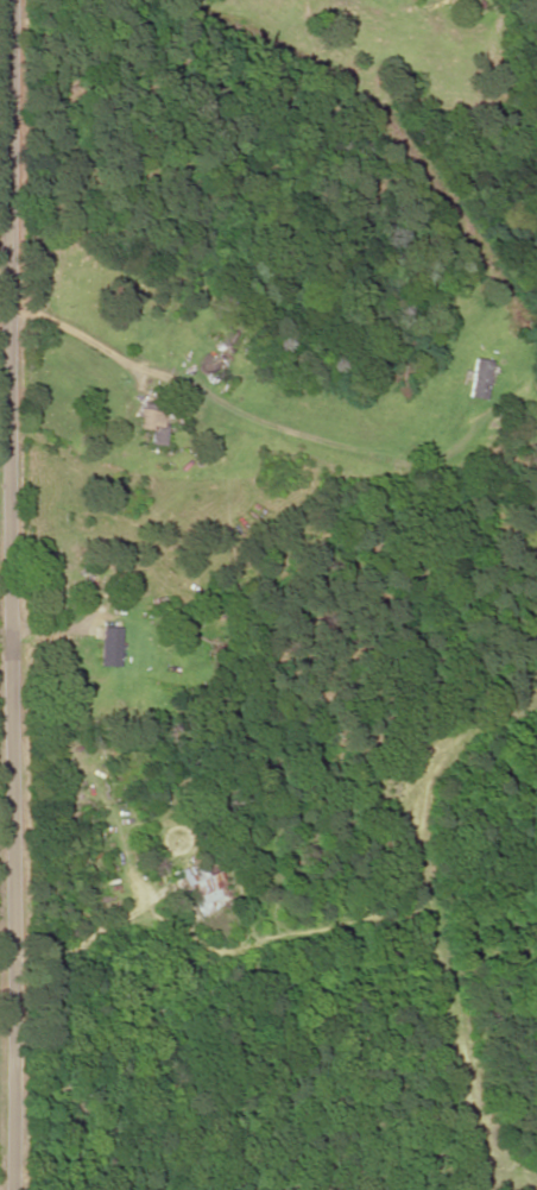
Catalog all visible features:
road: (1, 270)
building: (480, 379)
building: (152, 426)
road: (13, 593)
building: (109, 647)
building: (204, 883)

